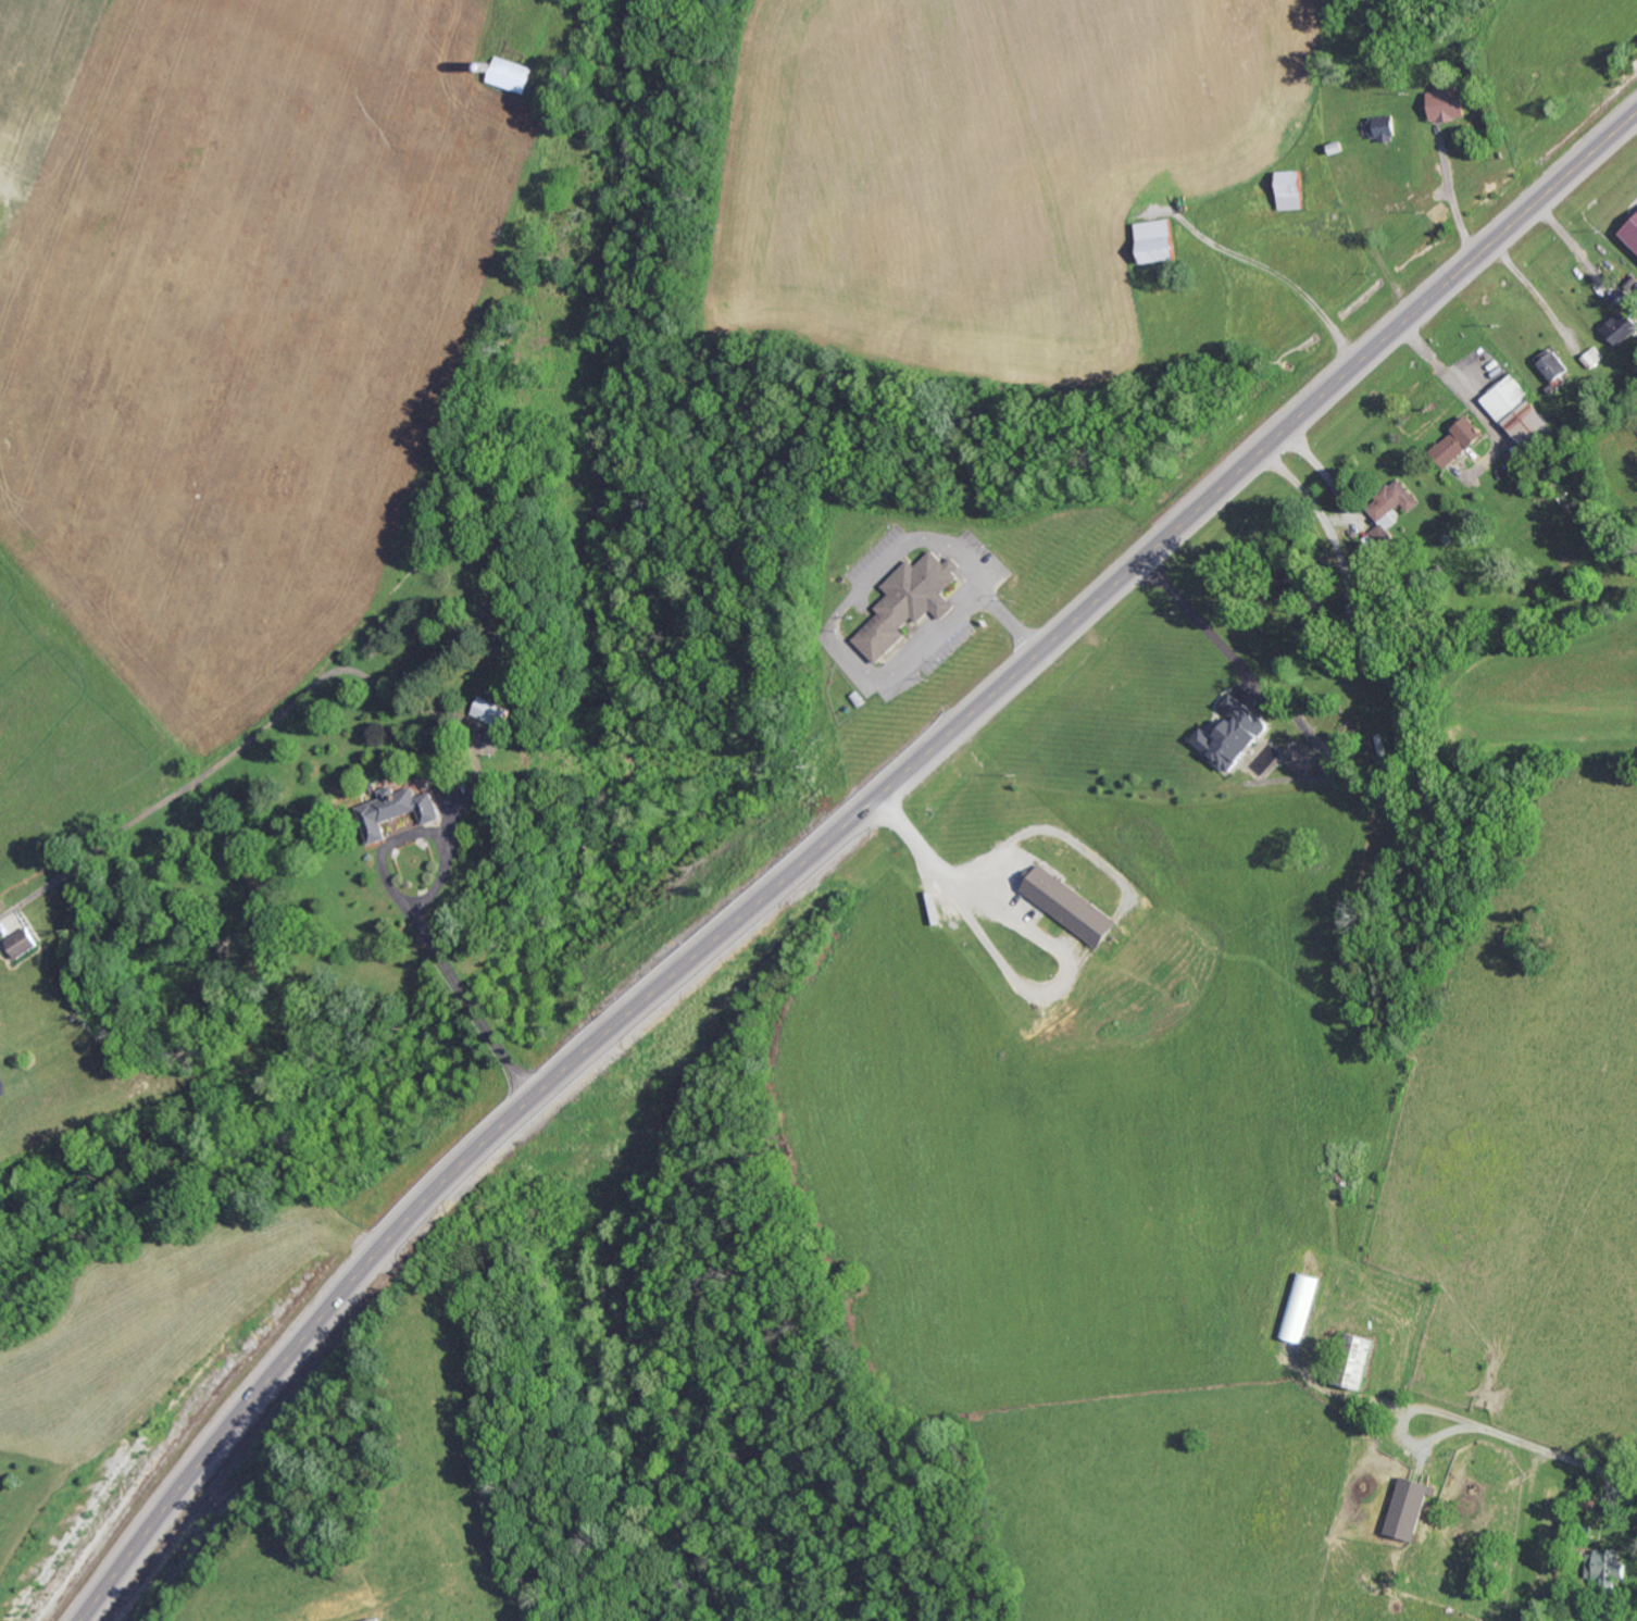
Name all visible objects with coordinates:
building: (512, 73)
building: (1449, 101)
building: (1382, 127)
building: (1292, 188)
building: (1633, 232)
building: (1160, 239)
building: (1622, 326)
building: (1555, 365)
building: (1521, 413)
building: (1460, 441)
building: (1404, 495)
building: (909, 601)
building: (493, 711)
building: (1233, 735)
building: (395, 810)
road: (398, 836)
road: (827, 840)
road: (933, 875)
building: (1071, 907)
building: (24, 942)
road: (478, 1006)
building: (1299, 1307)
building: (1364, 1362)
building: (1412, 1506)
building: (375, 1619)

